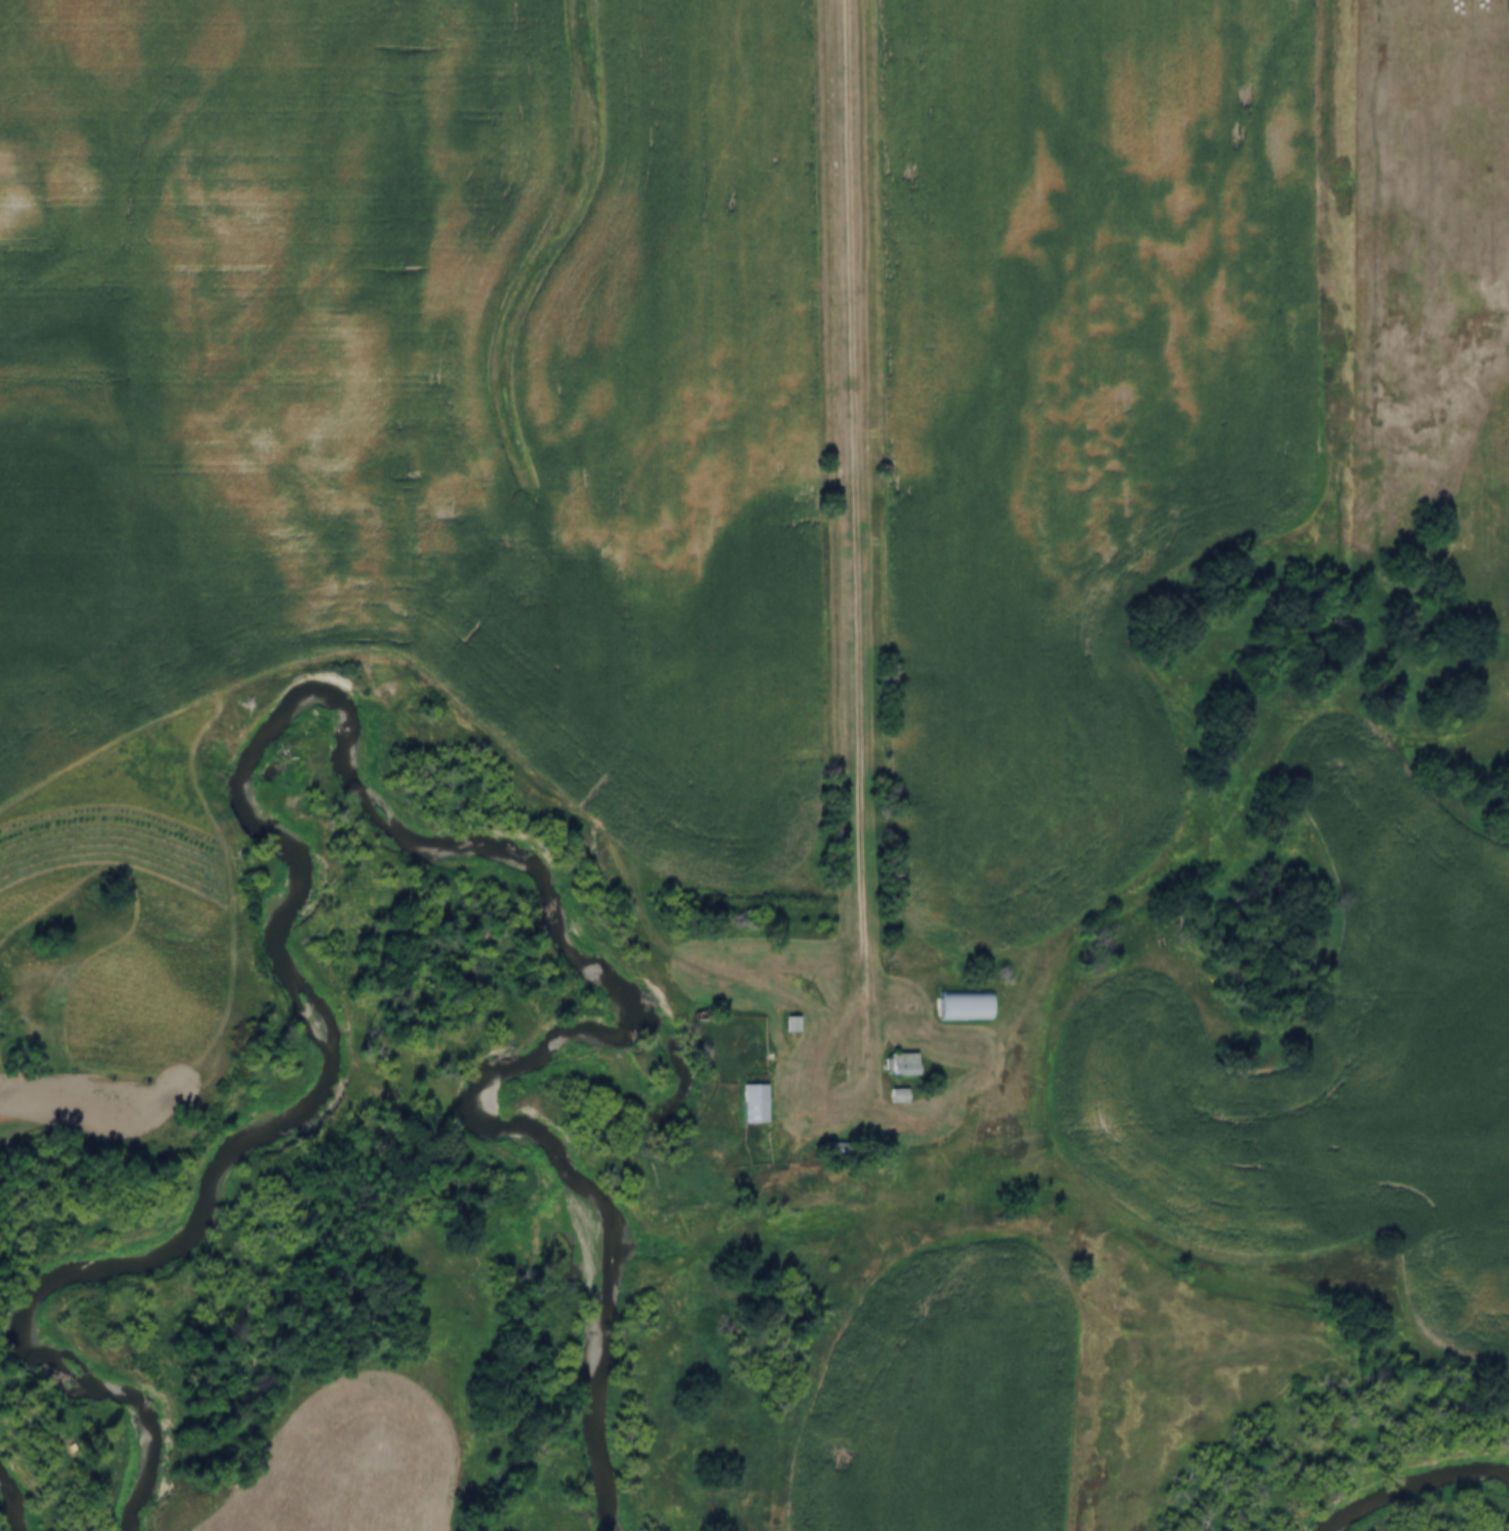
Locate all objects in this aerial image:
road: (861, 534)
building: (803, 997)
building: (953, 1008)
building: (791, 1018)
building: (782, 1025)
building: (892, 1066)
building: (888, 1097)
building: (744, 1105)

